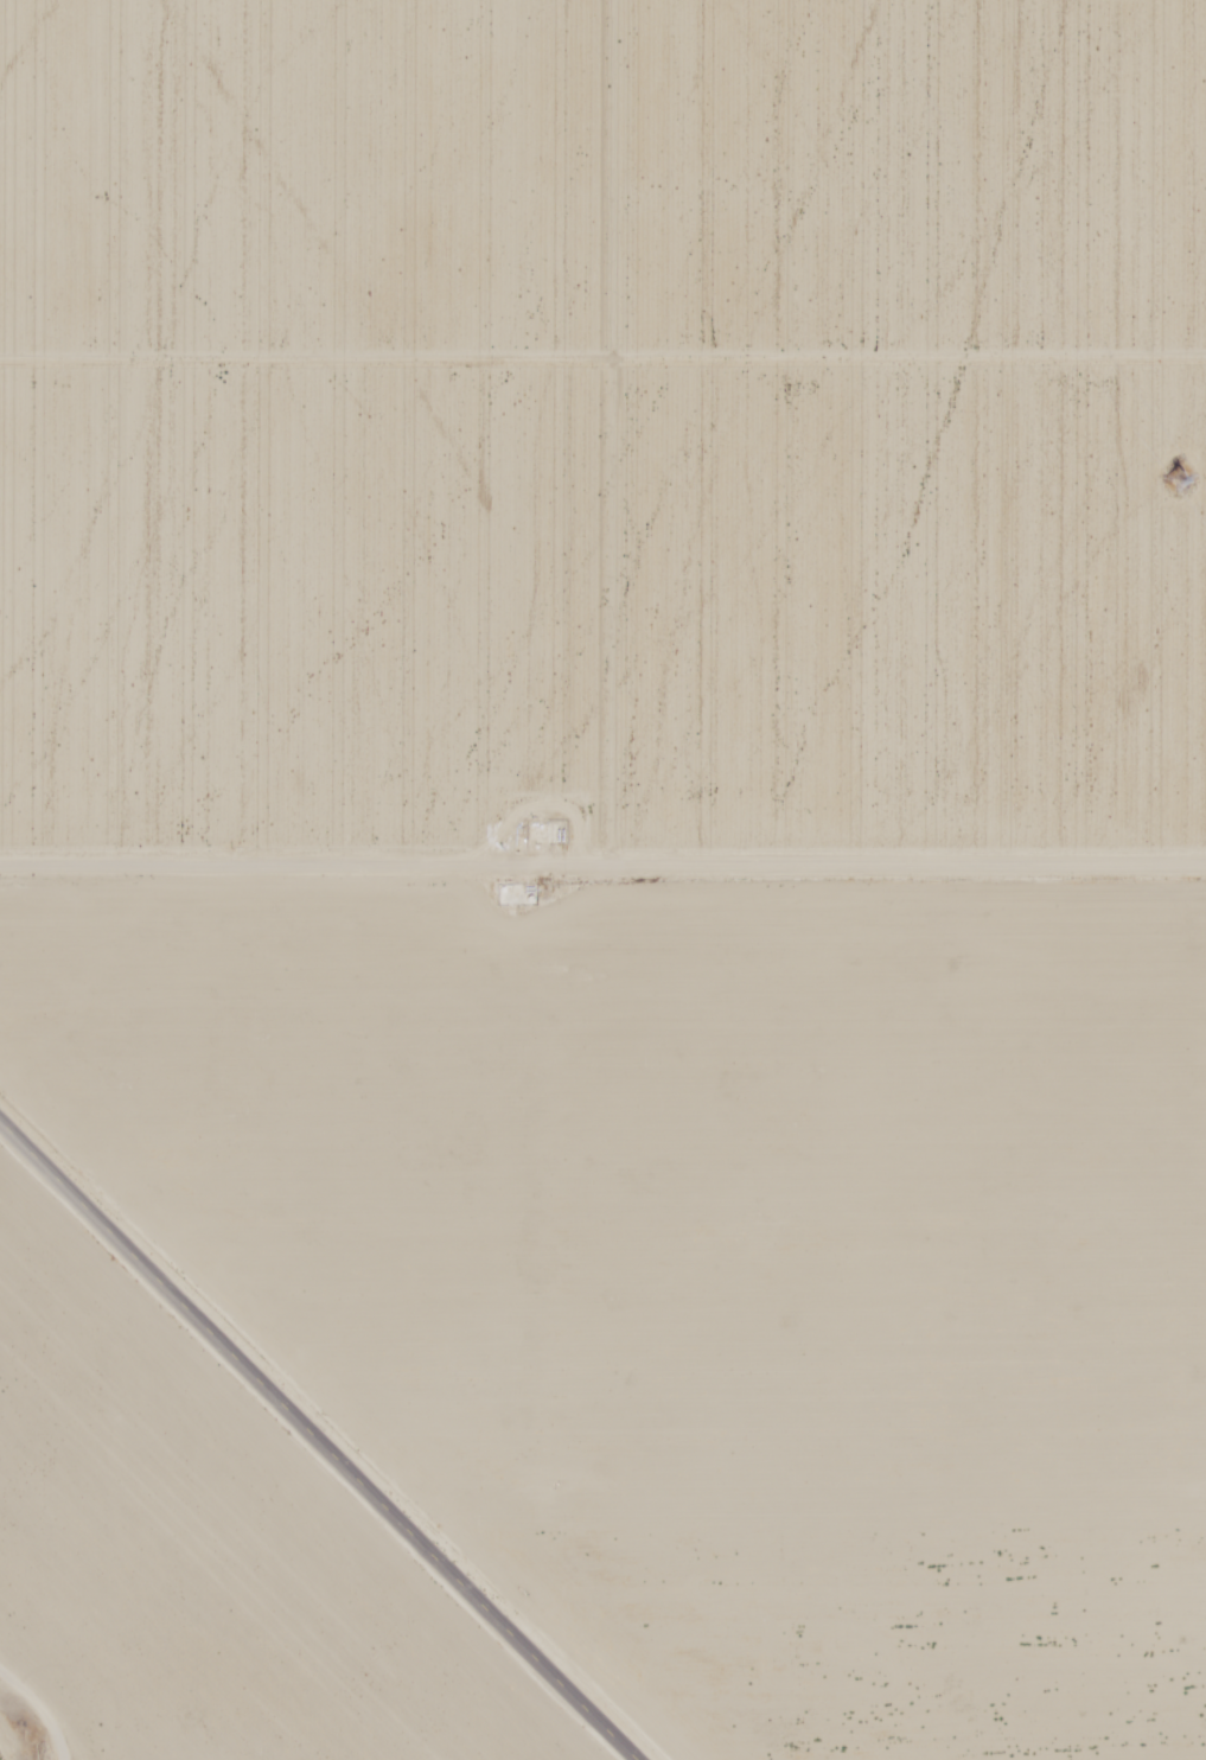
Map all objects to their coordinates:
crop: (601, 431)
power tower: (1182, 490)
road: (602, 873)
road: (321, 1437)

